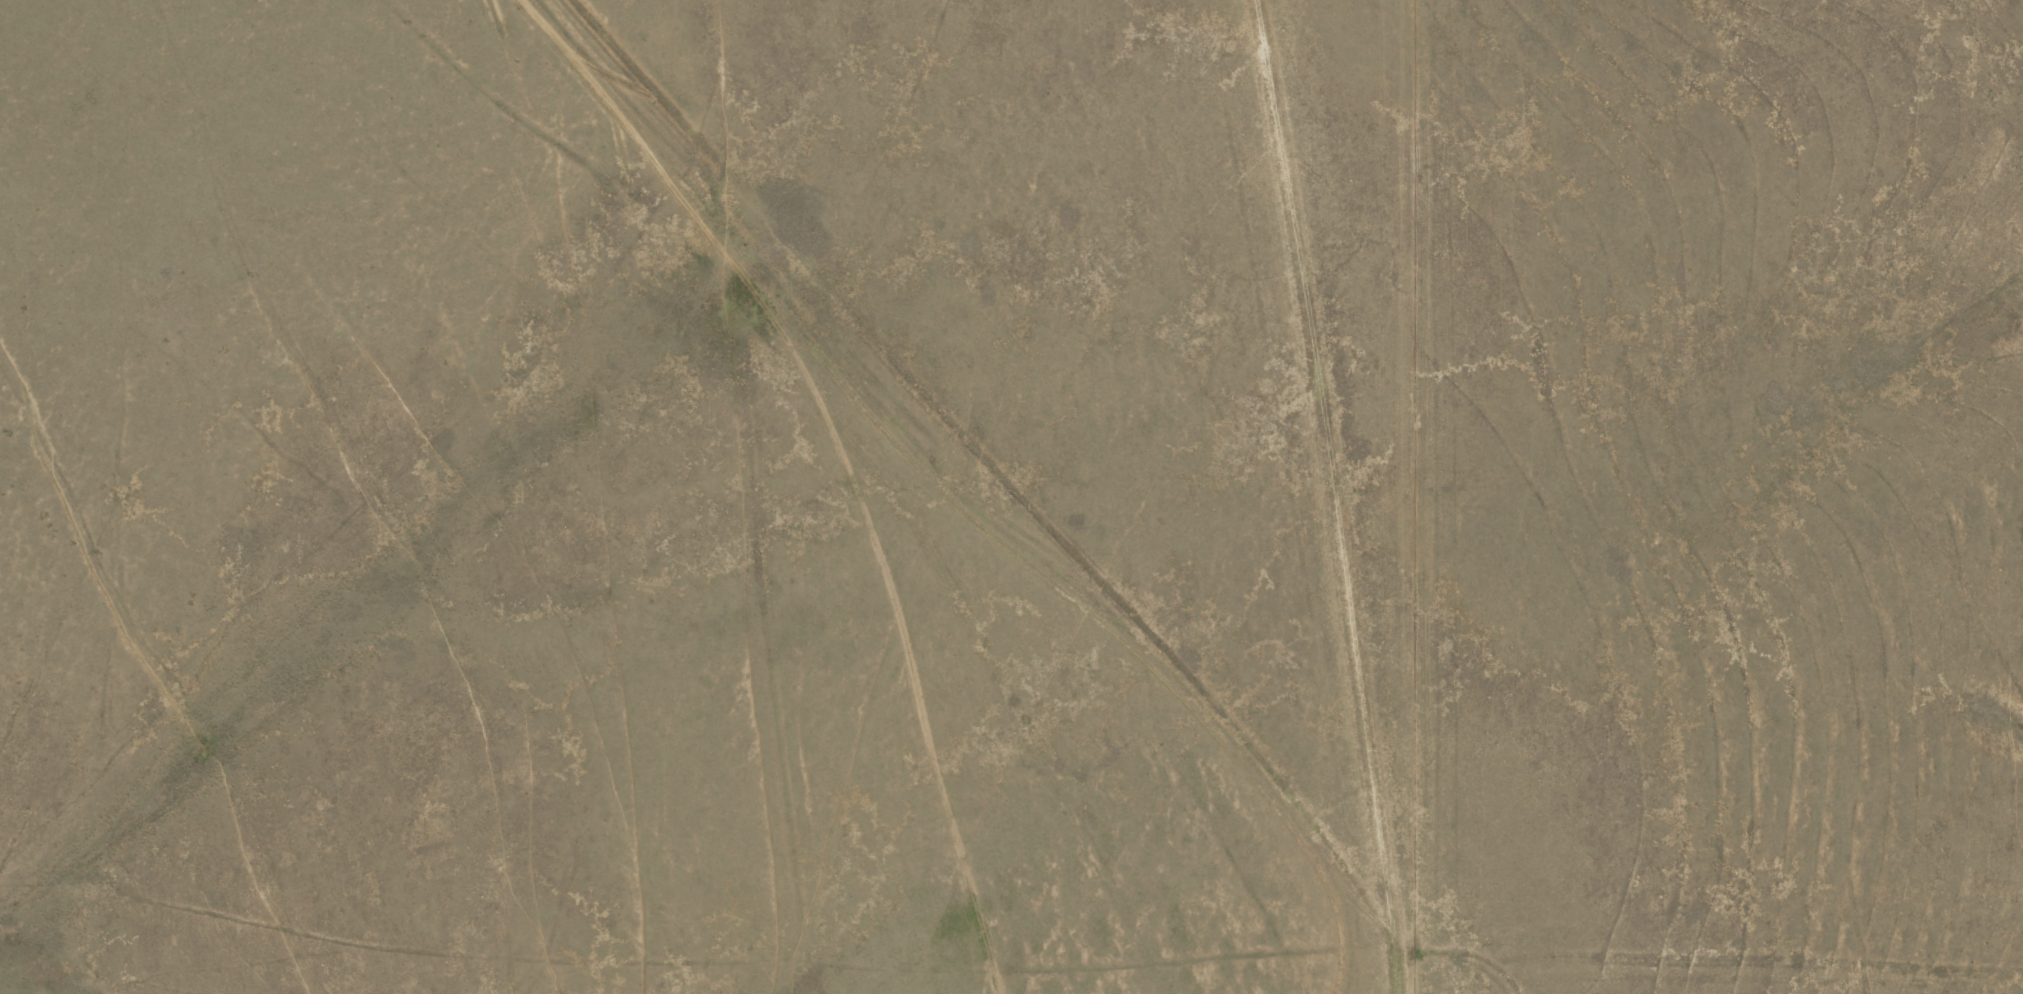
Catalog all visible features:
road: (1277, 498)
road: (974, 528)

